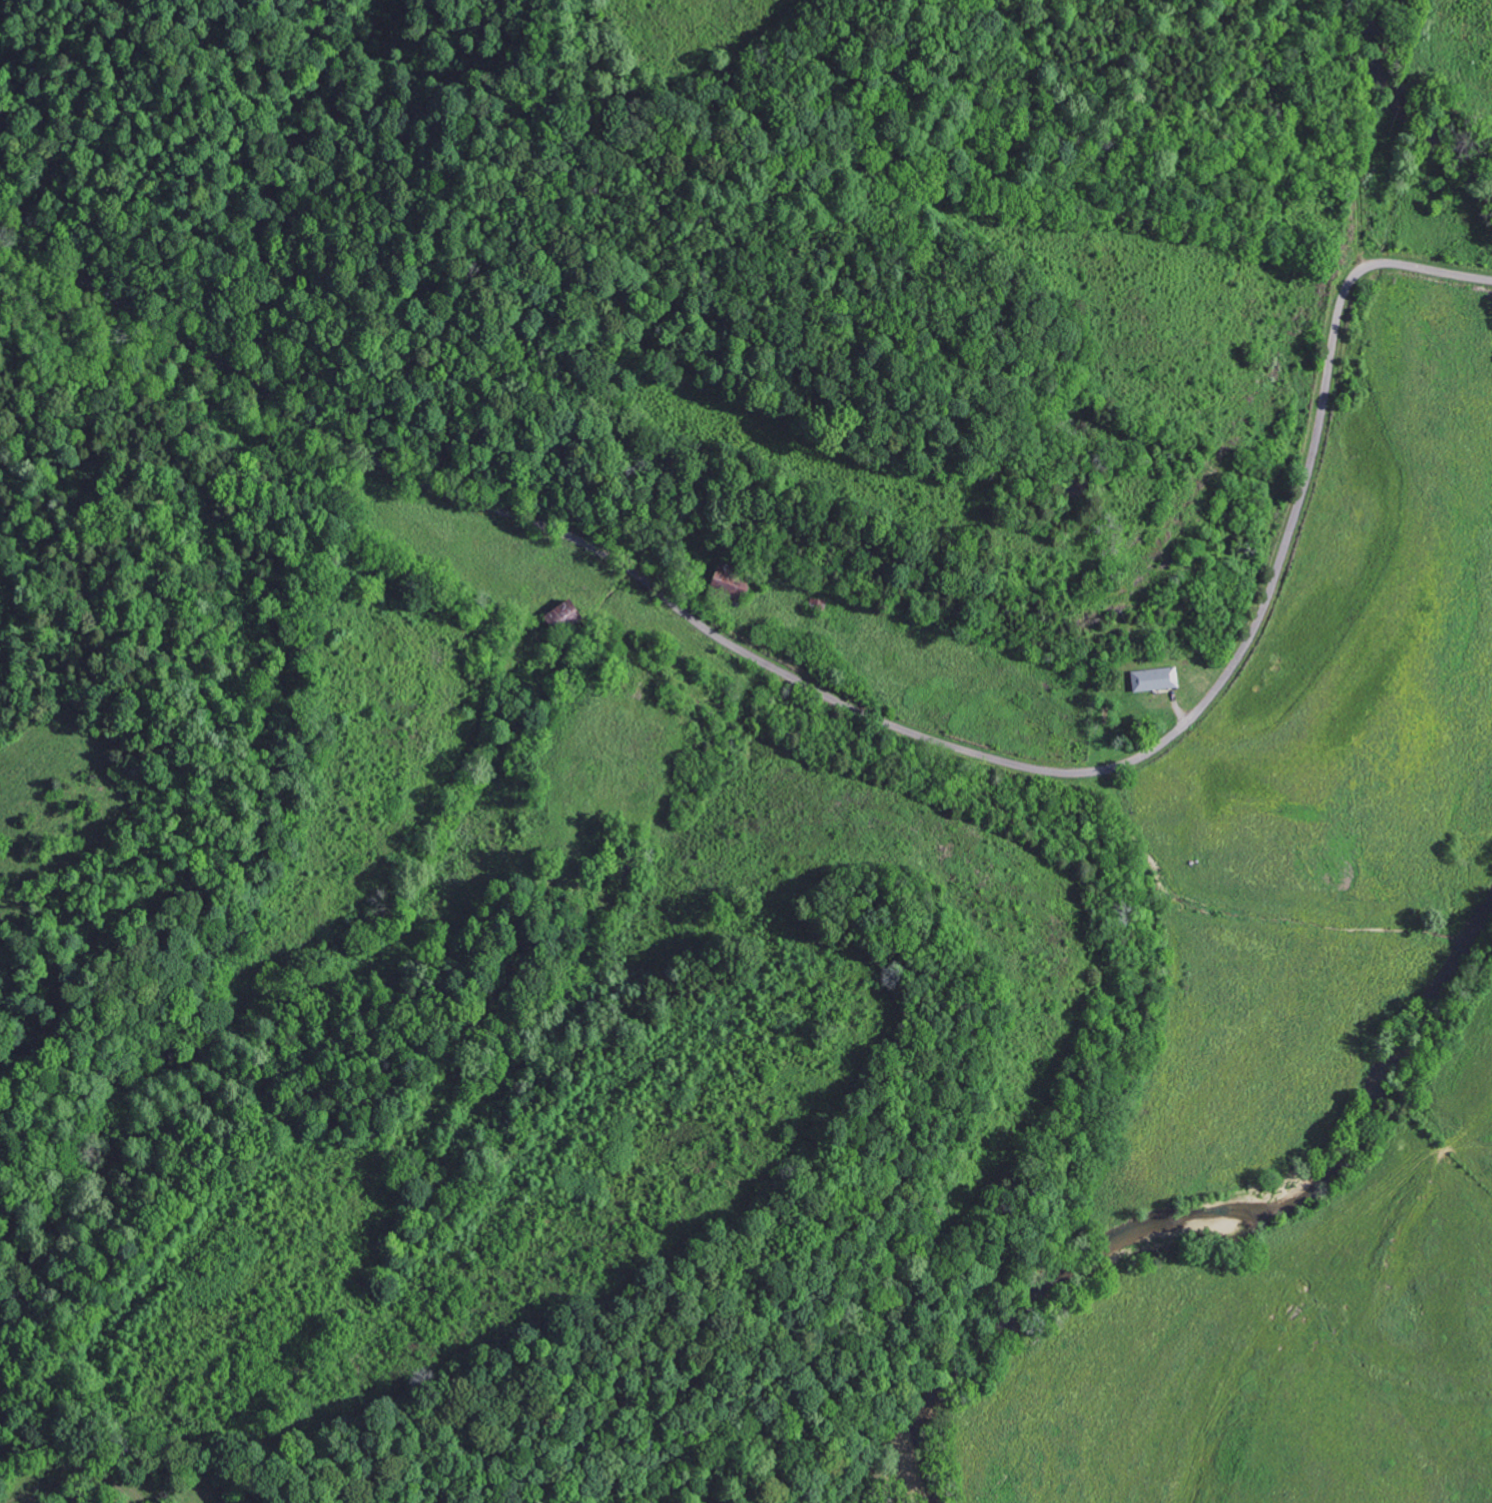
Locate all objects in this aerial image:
road: (1336, 144)
building: (727, 581)
building: (1153, 679)
road: (856, 709)

